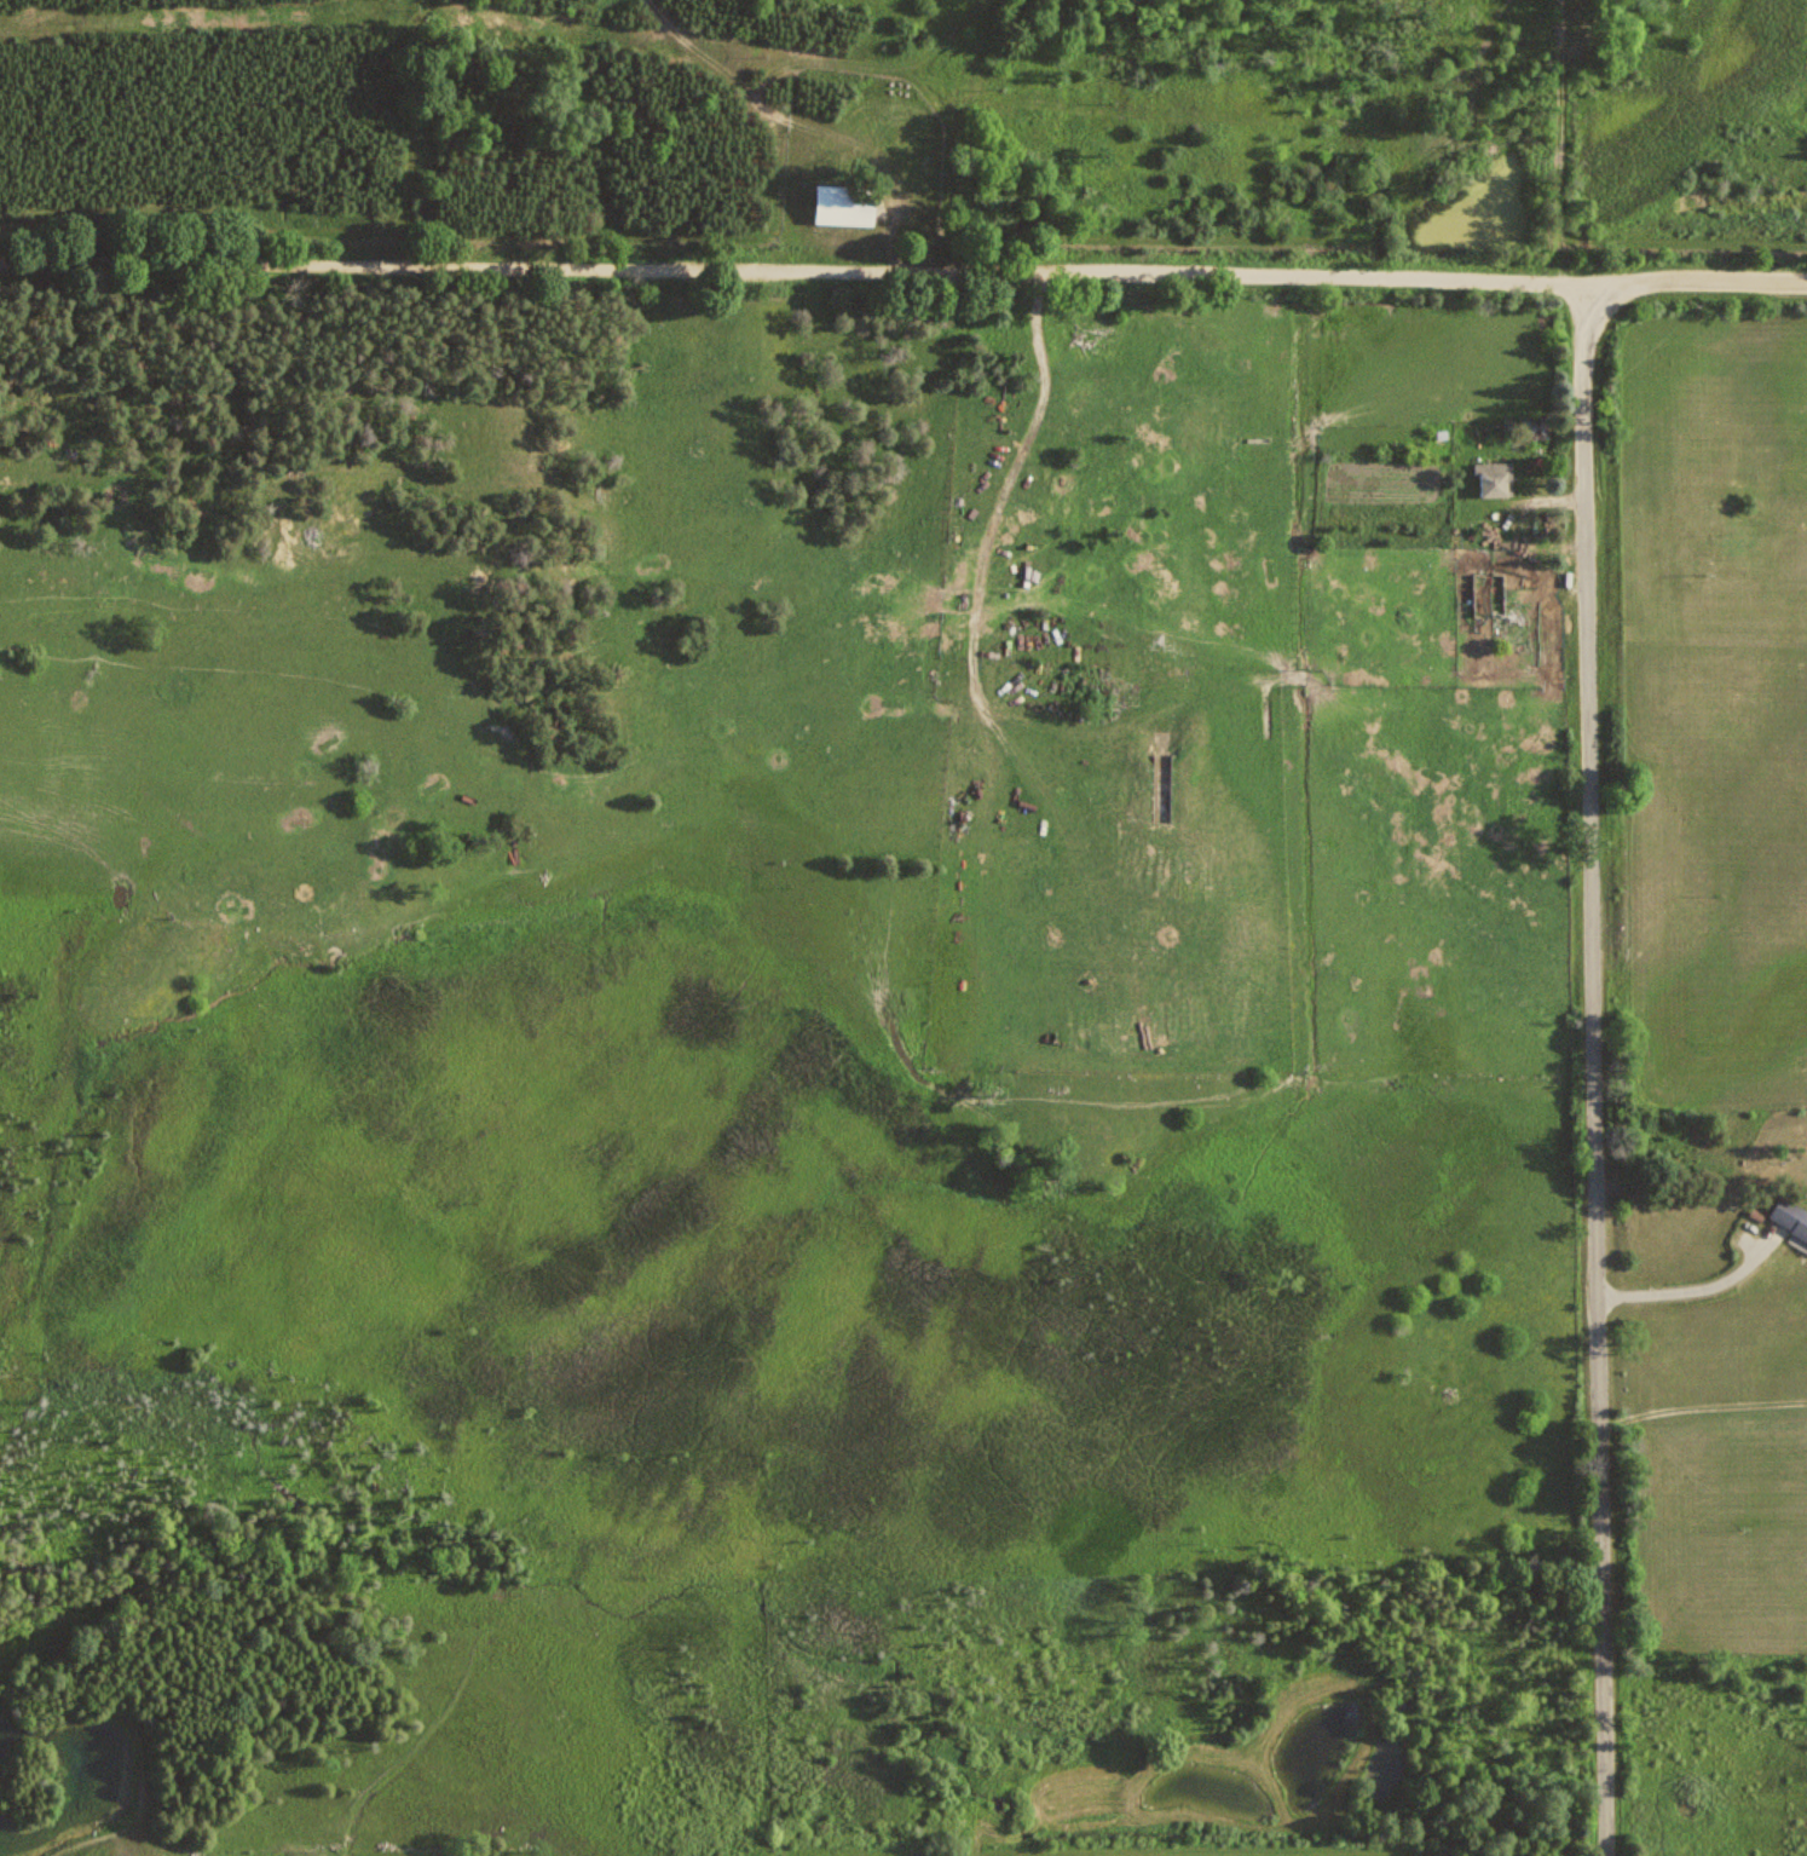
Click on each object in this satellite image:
building: (947, 82)
building: (849, 203)
road: (903, 287)
building: (1496, 479)
building: (1490, 593)
road: (1576, 1078)
building: (1790, 1216)

